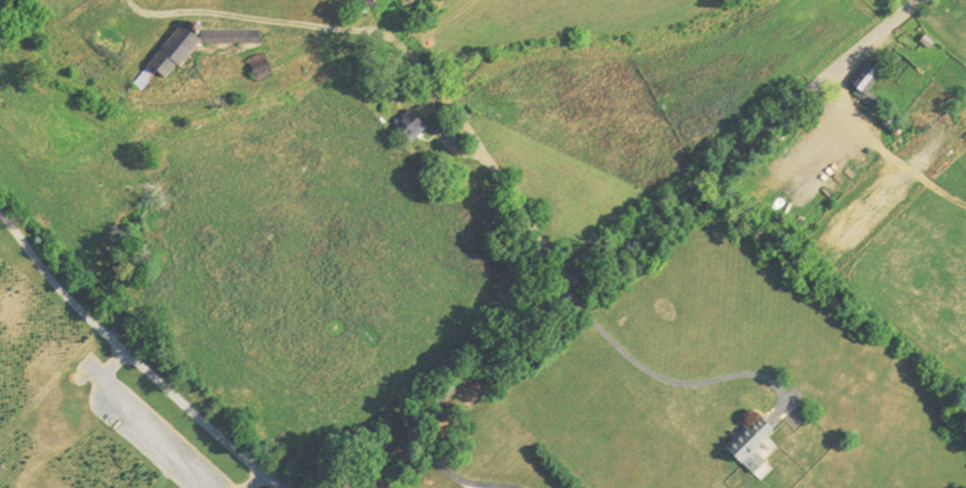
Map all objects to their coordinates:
building: (356, 5)
road: (407, 52)
crop: (628, 69)
building: (857, 84)
building: (400, 126)
road: (628, 240)
crop: (262, 243)
road: (136, 360)
road: (666, 379)
building: (740, 446)
building: (755, 446)
road: (444, 476)

